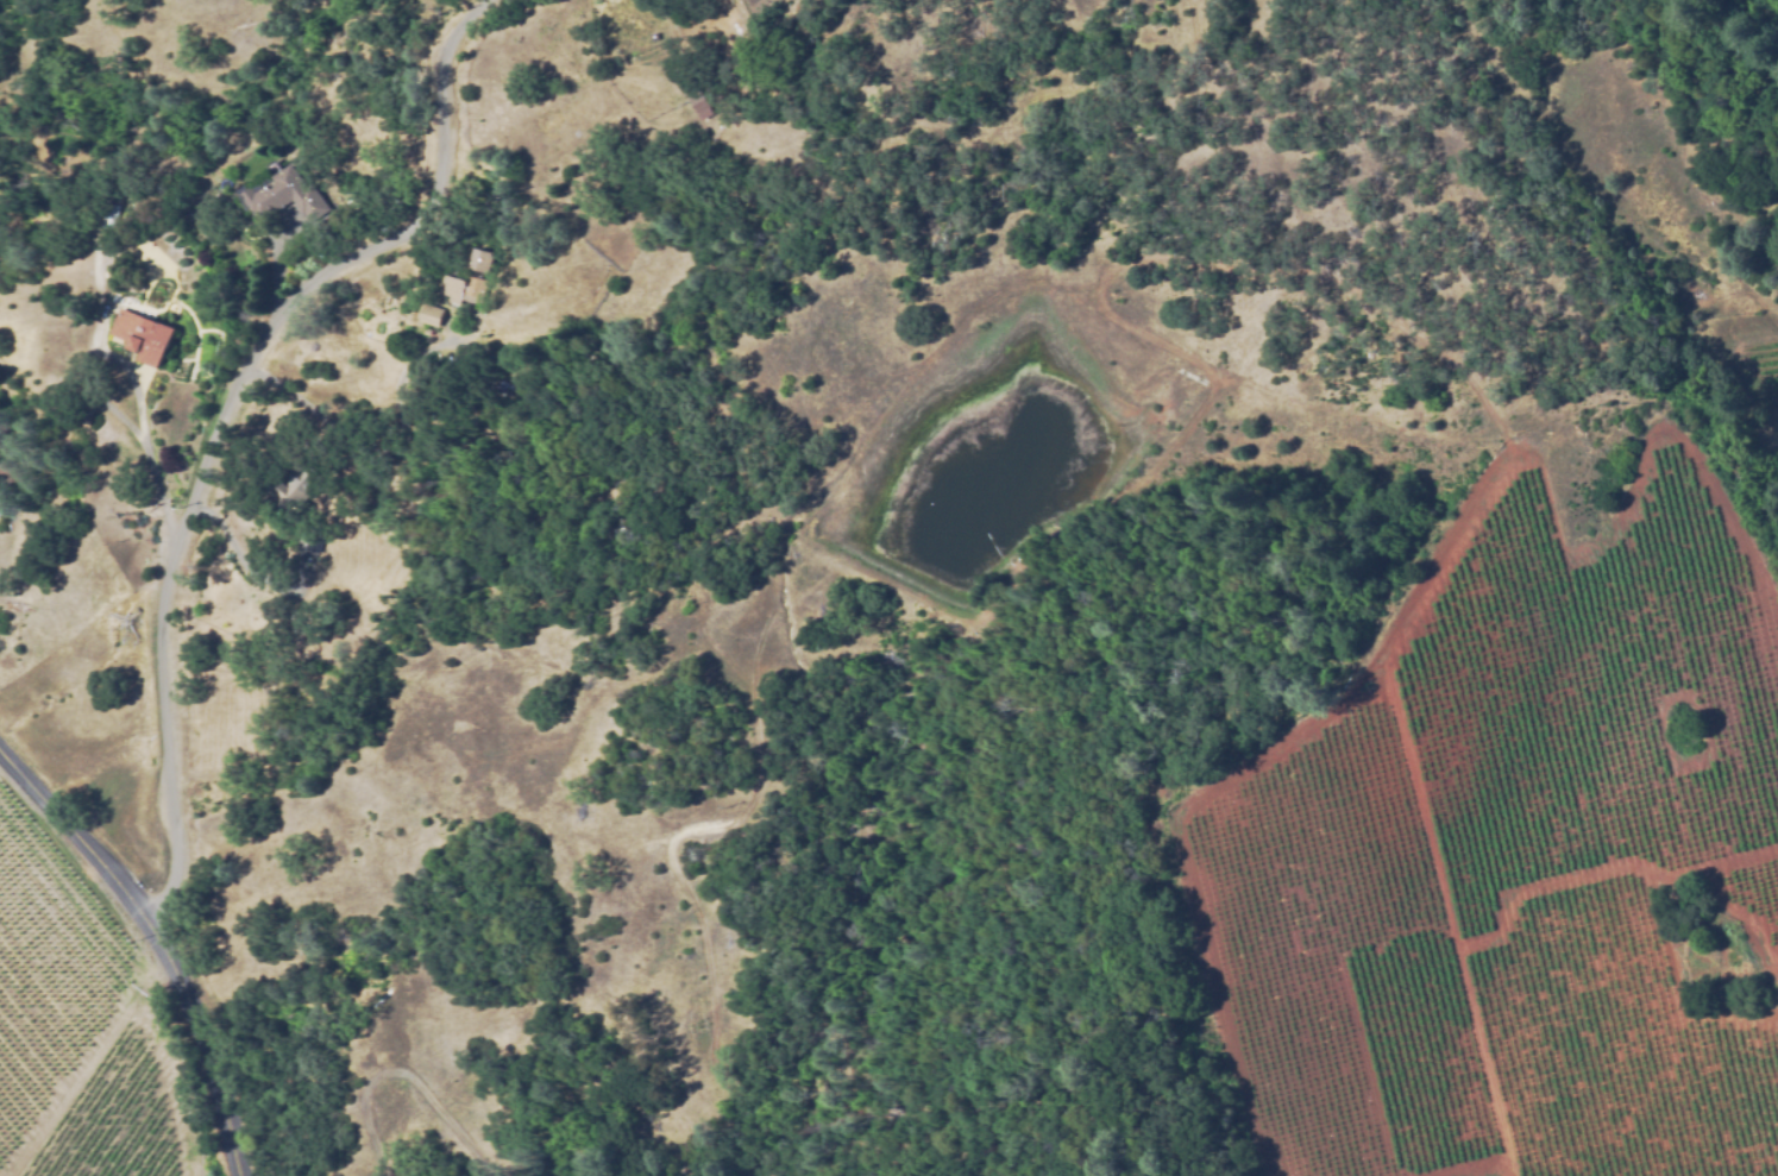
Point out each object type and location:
building: (752, 11)
building: (696, 98)
building: (284, 195)
building: (111, 212)
building: (469, 279)
building: (431, 313)
building: (142, 335)
road: (215, 429)
building: (295, 488)
road: (156, 944)

